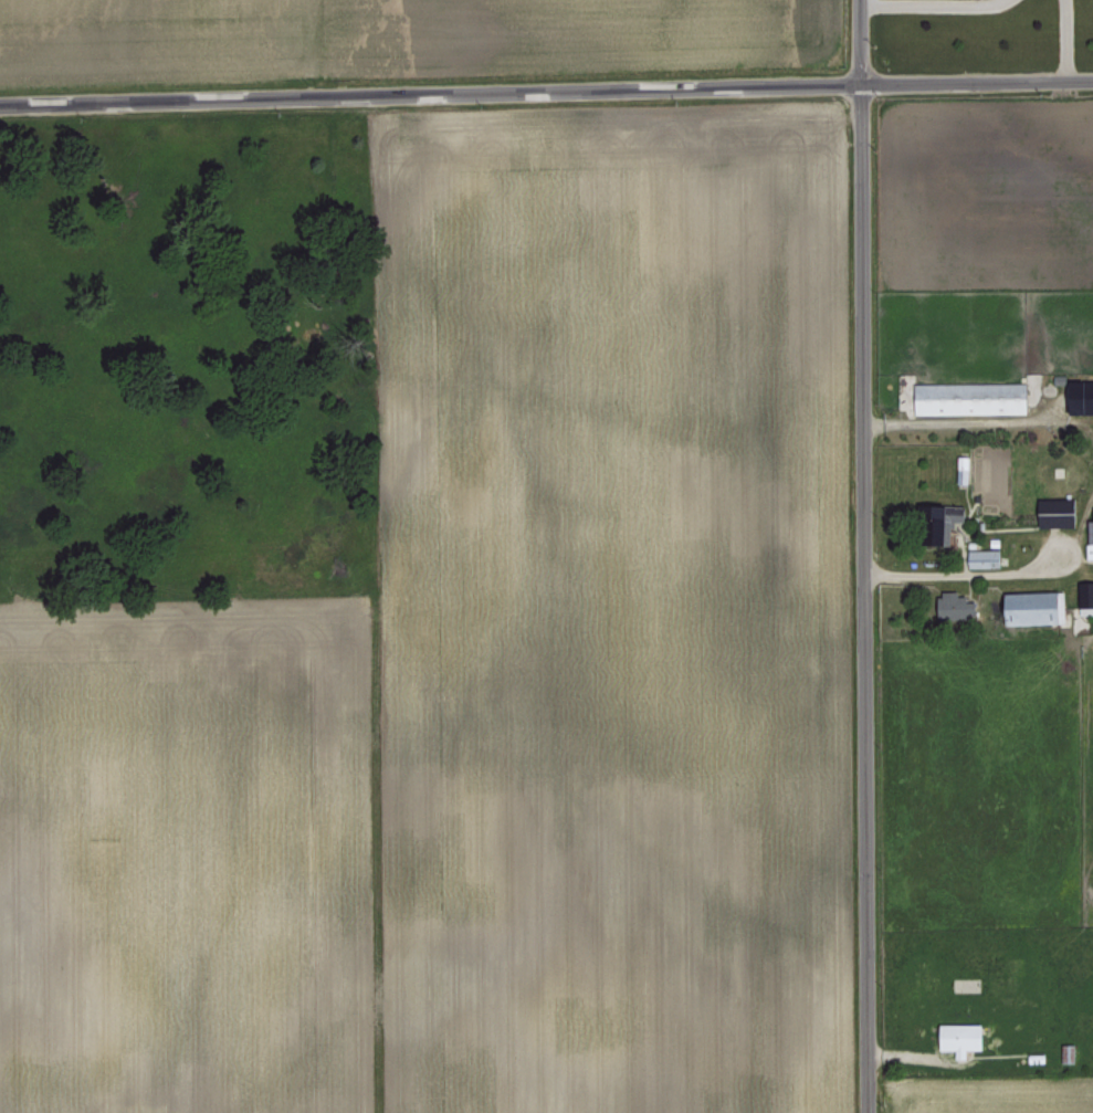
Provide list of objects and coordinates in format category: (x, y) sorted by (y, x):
road: (945, 1)
road: (1063, 40)
road: (546, 91)
building: (965, 397)
road: (960, 416)
building: (959, 468)
building: (1090, 518)
building: (937, 525)
road: (861, 556)
building: (1091, 561)
road: (1013, 569)
building: (1083, 592)
building: (946, 603)
building: (1027, 607)
building: (955, 1036)

